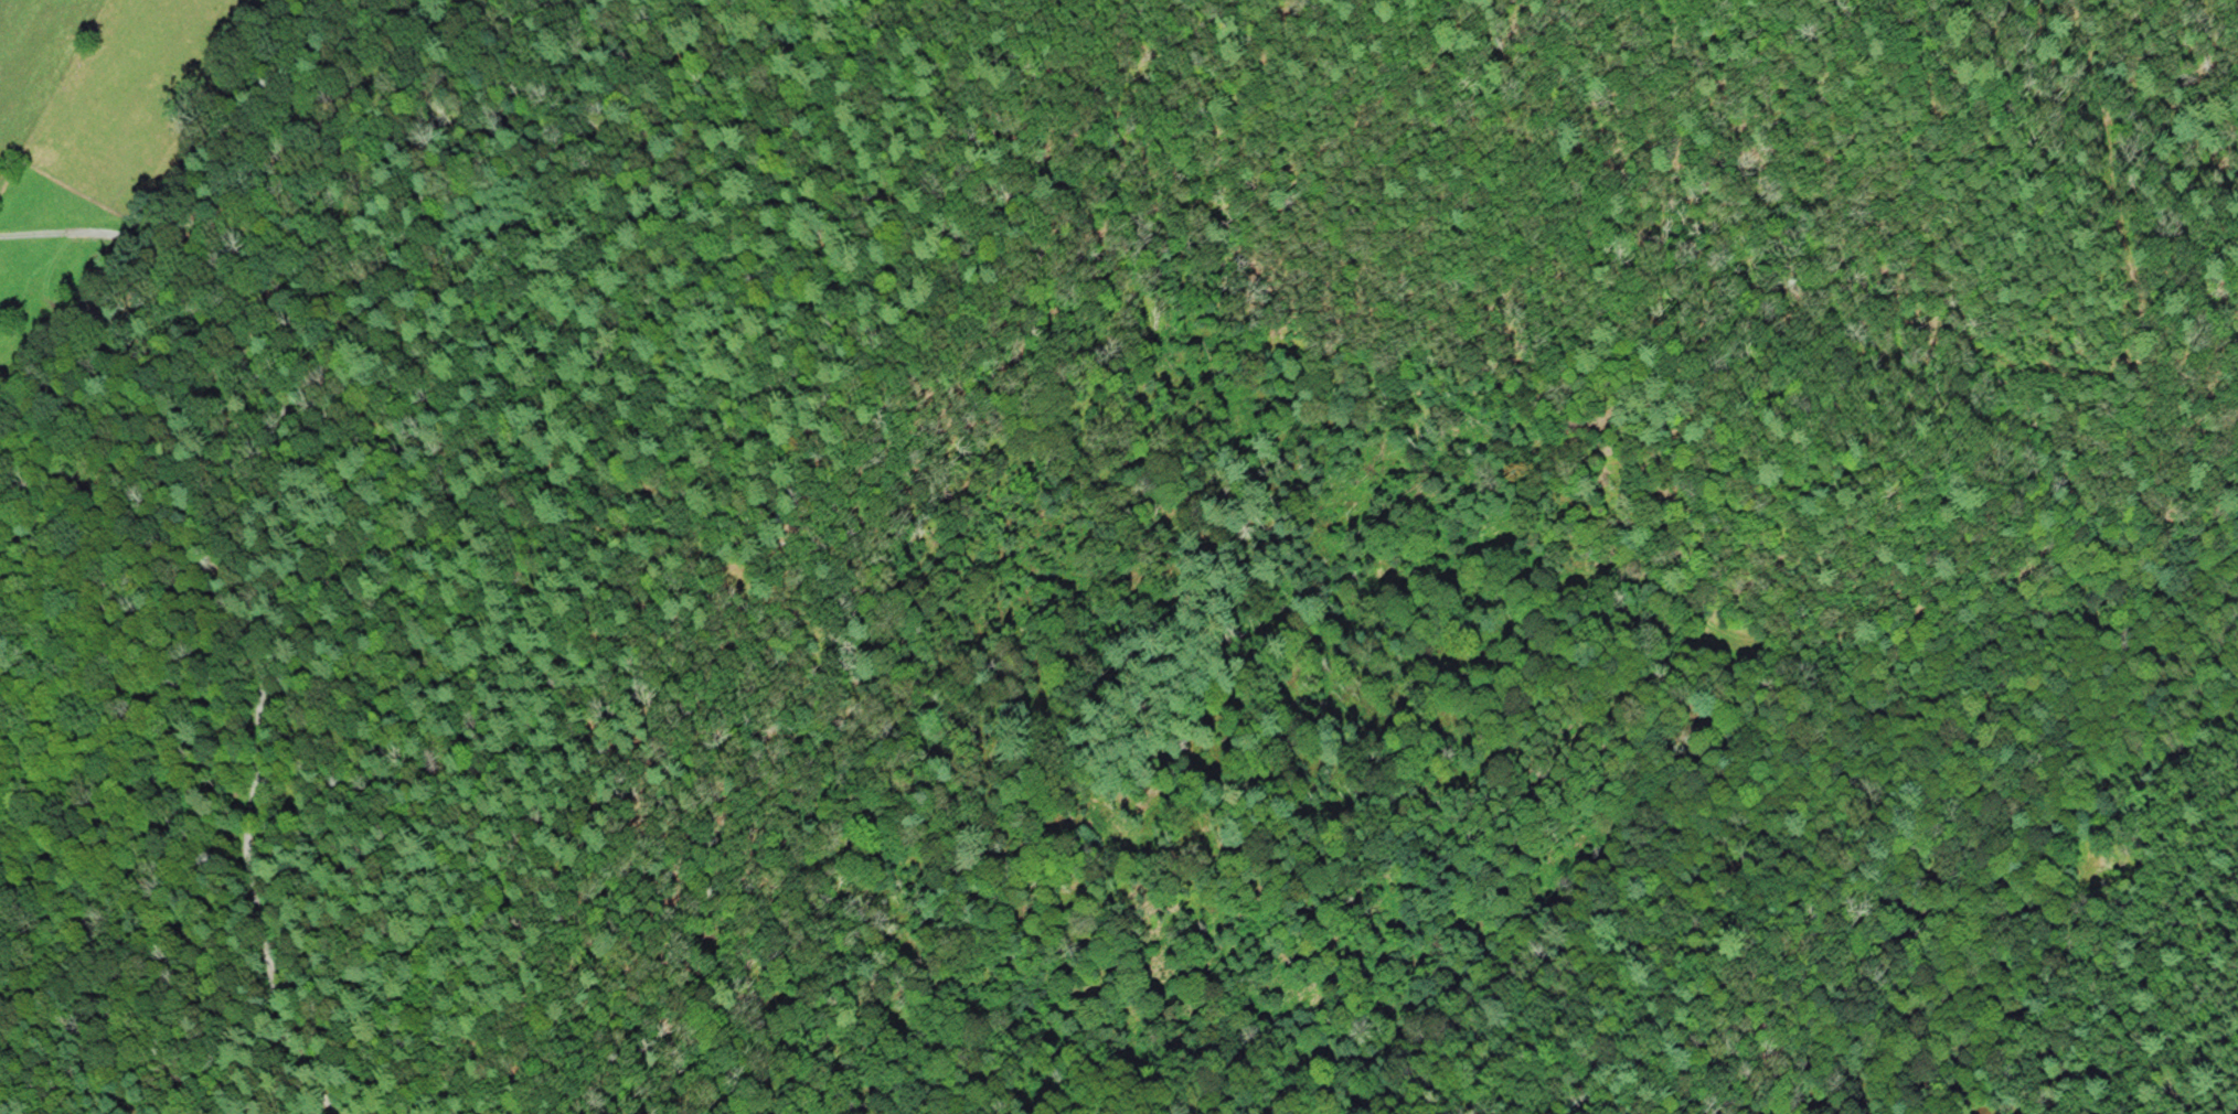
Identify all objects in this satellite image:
building: (182, 340)
building: (785, 534)
road: (509, 536)
road: (267, 585)

